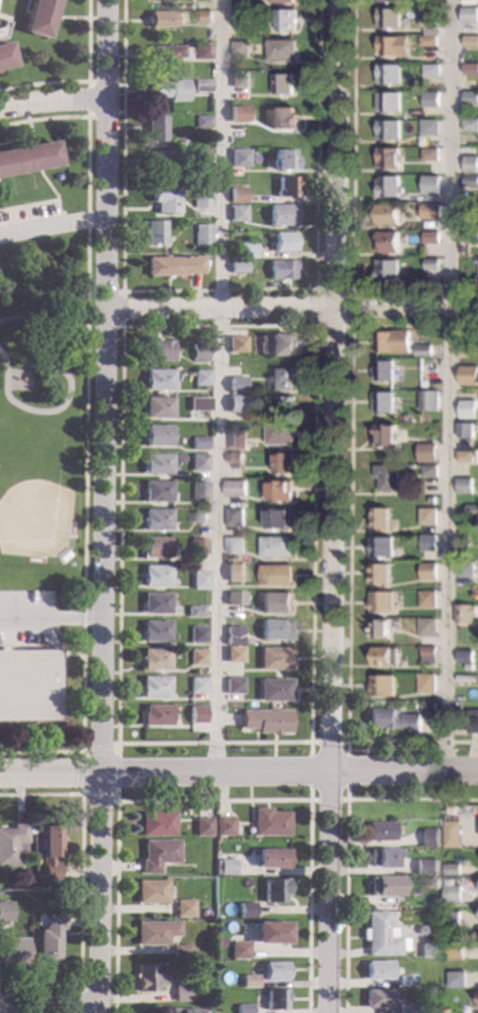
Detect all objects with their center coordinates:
building: (280, 0)
building: (387, 0)
building: (239, 3)
building: (189, 6)
road: (25, 7)
building: (469, 14)
building: (203, 16)
building: (38, 17)
building: (240, 17)
building: (388, 17)
building: (161, 19)
building: (284, 19)
building: (429, 21)
road: (4, 25)
road: (1, 29)
building: (428, 40)
building: (470, 40)
building: (392, 44)
building: (240, 47)
building: (281, 49)
building: (202, 51)
building: (165, 53)
building: (4, 56)
building: (470, 68)
building: (430, 69)
building: (388, 73)
building: (239, 79)
road: (85, 83)
road: (87, 83)
building: (282, 83)
building: (201, 86)
building: (168, 89)
building: (470, 96)
building: (430, 99)
building: (387, 101)
road: (52, 102)
building: (237, 114)
building: (407, 116)
building: (283, 118)
building: (202, 122)
building: (469, 124)
building: (429, 126)
building: (155, 129)
building: (387, 129)
building: (429, 153)
building: (199, 156)
building: (386, 157)
building: (28, 158)
building: (238, 158)
building: (160, 159)
building: (284, 160)
building: (470, 164)
building: (470, 179)
building: (429, 181)
building: (387, 186)
building: (286, 187)
road: (53, 194)
building: (236, 195)
building: (200, 197)
building: (163, 199)
road: (28, 205)
road: (351, 208)
building: (471, 209)
building: (429, 210)
building: (236, 213)
building: (386, 213)
parking lot: (30, 214)
building: (281, 215)
road: (51, 225)
building: (153, 232)
building: (200, 234)
building: (430, 236)
building: (470, 236)
building: (386, 241)
building: (283, 242)
building: (245, 250)
building: (430, 263)
building: (171, 266)
building: (237, 267)
building: (281, 269)
building: (386, 269)
road: (217, 290)
road: (290, 308)
road: (119, 324)
road: (351, 324)
building: (390, 341)
building: (235, 344)
building: (276, 344)
building: (466, 348)
building: (423, 349)
building: (157, 351)
building: (197, 352)
building: (248, 370)
building: (382, 370)
building: (468, 375)
building: (200, 377)
building: (281, 378)
building: (156, 379)
building: (235, 384)
road: (221, 385)
road: (451, 385)
road: (101, 386)
park: (46, 398)
building: (429, 399)
building: (382, 401)
building: (197, 404)
building: (235, 404)
building: (285, 405)
building: (156, 407)
building: (467, 408)
building: (465, 429)
road: (83, 432)
building: (280, 432)
building: (384, 434)
building: (156, 436)
building: (237, 439)
building: (197, 443)
building: (426, 451)
building: (465, 456)
building: (234, 457)
building: (196, 462)
building: (283, 462)
building: (154, 464)
building: (429, 470)
building: (385, 476)
building: (464, 484)
building: (235, 487)
building: (155, 491)
building: (198, 491)
building: (278, 491)
park: (32, 495)
building: (431, 499)
road: (334, 506)
building: (471, 509)
building: (234, 515)
building: (427, 515)
building: (198, 516)
building: (276, 518)
building: (378, 518)
building: (155, 519)
road: (349, 533)
building: (427, 542)
building: (234, 544)
building: (196, 546)
building: (275, 546)
building: (380, 546)
building: (153, 548)
building: (243, 557)
building: (464, 569)
building: (427, 570)
building: (234, 571)
building: (379, 573)
building: (276, 574)
building: (154, 575)
building: (198, 580)
building: (234, 598)
building: (426, 598)
building: (275, 601)
building: (381, 601)
building: (156, 604)
building: (193, 611)
building: (463, 613)
road: (48, 616)
building: (427, 626)
building: (379, 628)
building: (274, 629)
building: (154, 631)
building: (196, 634)
building: (232, 635)
building: (233, 654)
building: (428, 654)
building: (382, 655)
building: (197, 657)
building: (467, 657)
building: (154, 659)
building: (274, 659)
building: (465, 677)
building: (425, 682)
building: (28, 685)
building: (197, 685)
building: (381, 685)
building: (233, 686)
building: (154, 687)
building: (274, 690)
building: (474, 696)
building: (196, 715)
building: (155, 716)
building: (393, 719)
building: (471, 720)
building: (265, 721)
road: (311, 740)
road: (346, 770)
road: (157, 771)
road: (49, 773)
road: (116, 790)
road: (347, 797)
road: (213, 799)
building: (269, 822)
building: (156, 823)
building: (202, 826)
building: (223, 826)
building: (379, 831)
building: (429, 837)
building: (452, 838)
road: (346, 840)
building: (11, 844)
building: (49, 851)
building: (156, 854)
building: (271, 857)
building: (384, 857)
building: (225, 867)
building: (425, 867)
building: (451, 868)
building: (433, 882)
building: (385, 885)
road: (80, 888)
building: (273, 890)
building: (149, 891)
road: (97, 893)
building: (452, 893)
building: (182, 908)
building: (245, 910)
building: (5, 912)
building: (451, 920)
building: (420, 930)
building: (153, 932)
building: (270, 933)
building: (450, 934)
building: (379, 936)
building: (431, 939)
building: (49, 940)
building: (218, 943)
building: (237, 949)
building: (454, 949)
building: (13, 951)
building: (179, 951)
building: (427, 951)
building: (453, 965)
building: (274, 970)
building: (377, 970)
building: (147, 976)
building: (457, 978)
building: (405, 980)
building: (249, 981)
building: (180, 992)
road: (78, 998)
building: (376, 998)
building: (274, 999)
road: (49, 1004)
building: (405, 1008)
building: (243, 1009)
building: (184, 1010)
building: (447, 1011)

